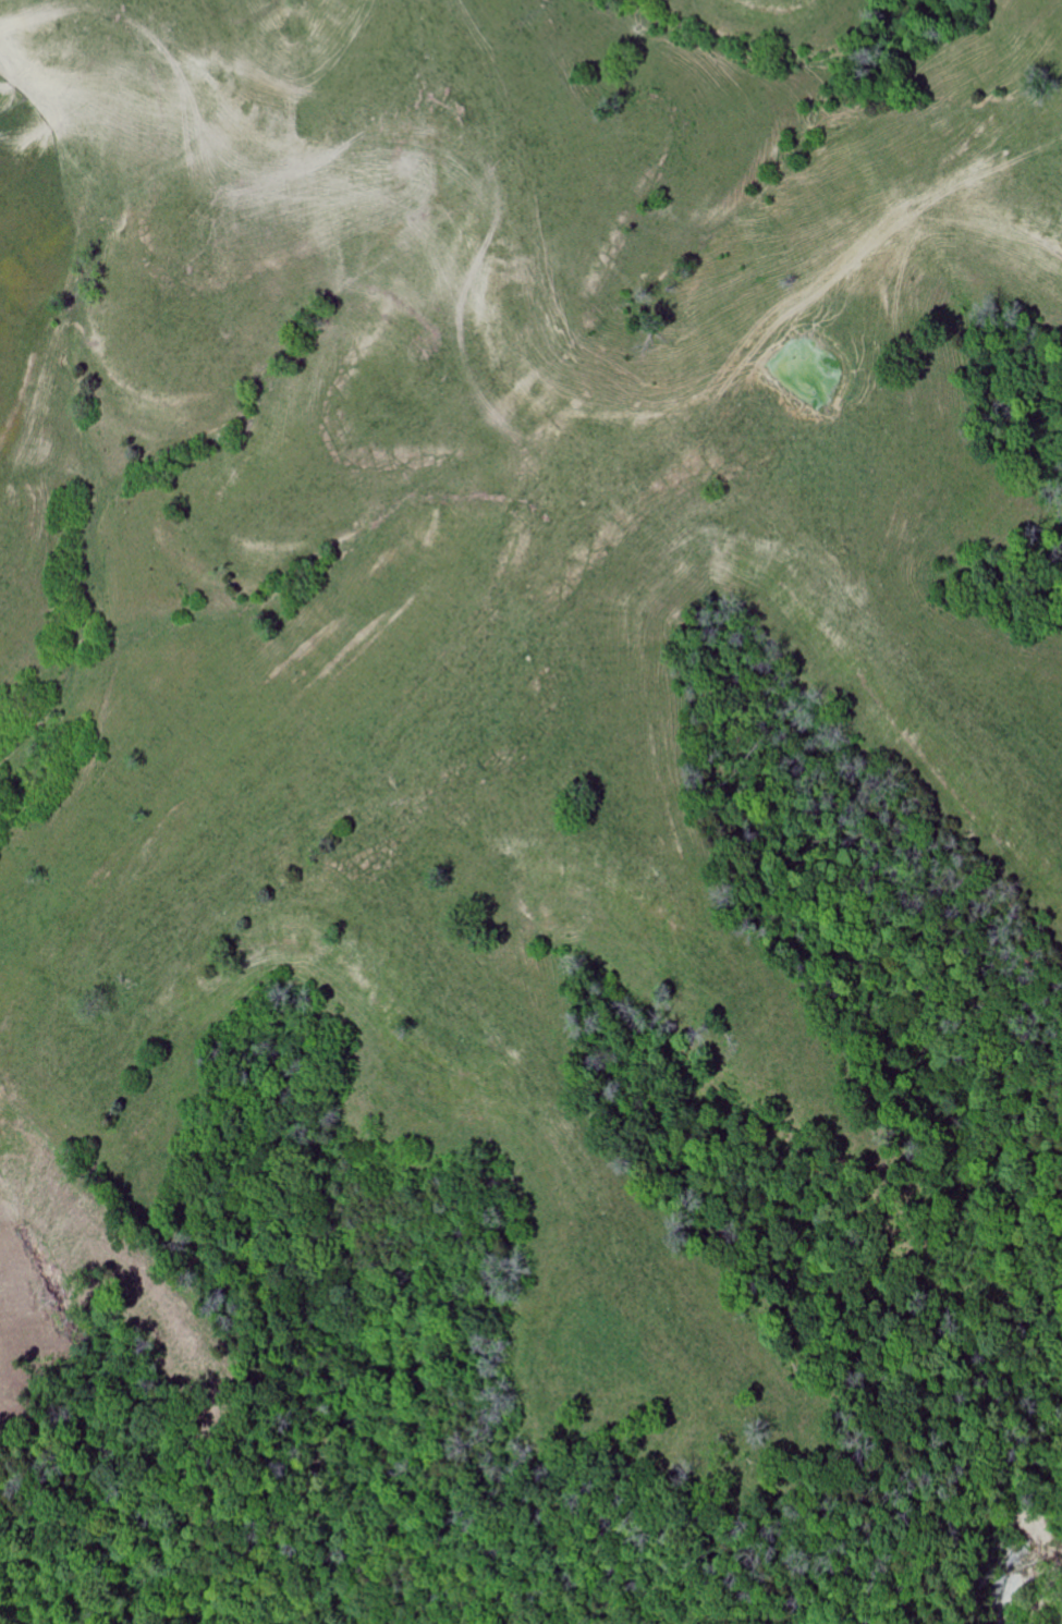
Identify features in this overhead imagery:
road: (1043, 1596)

